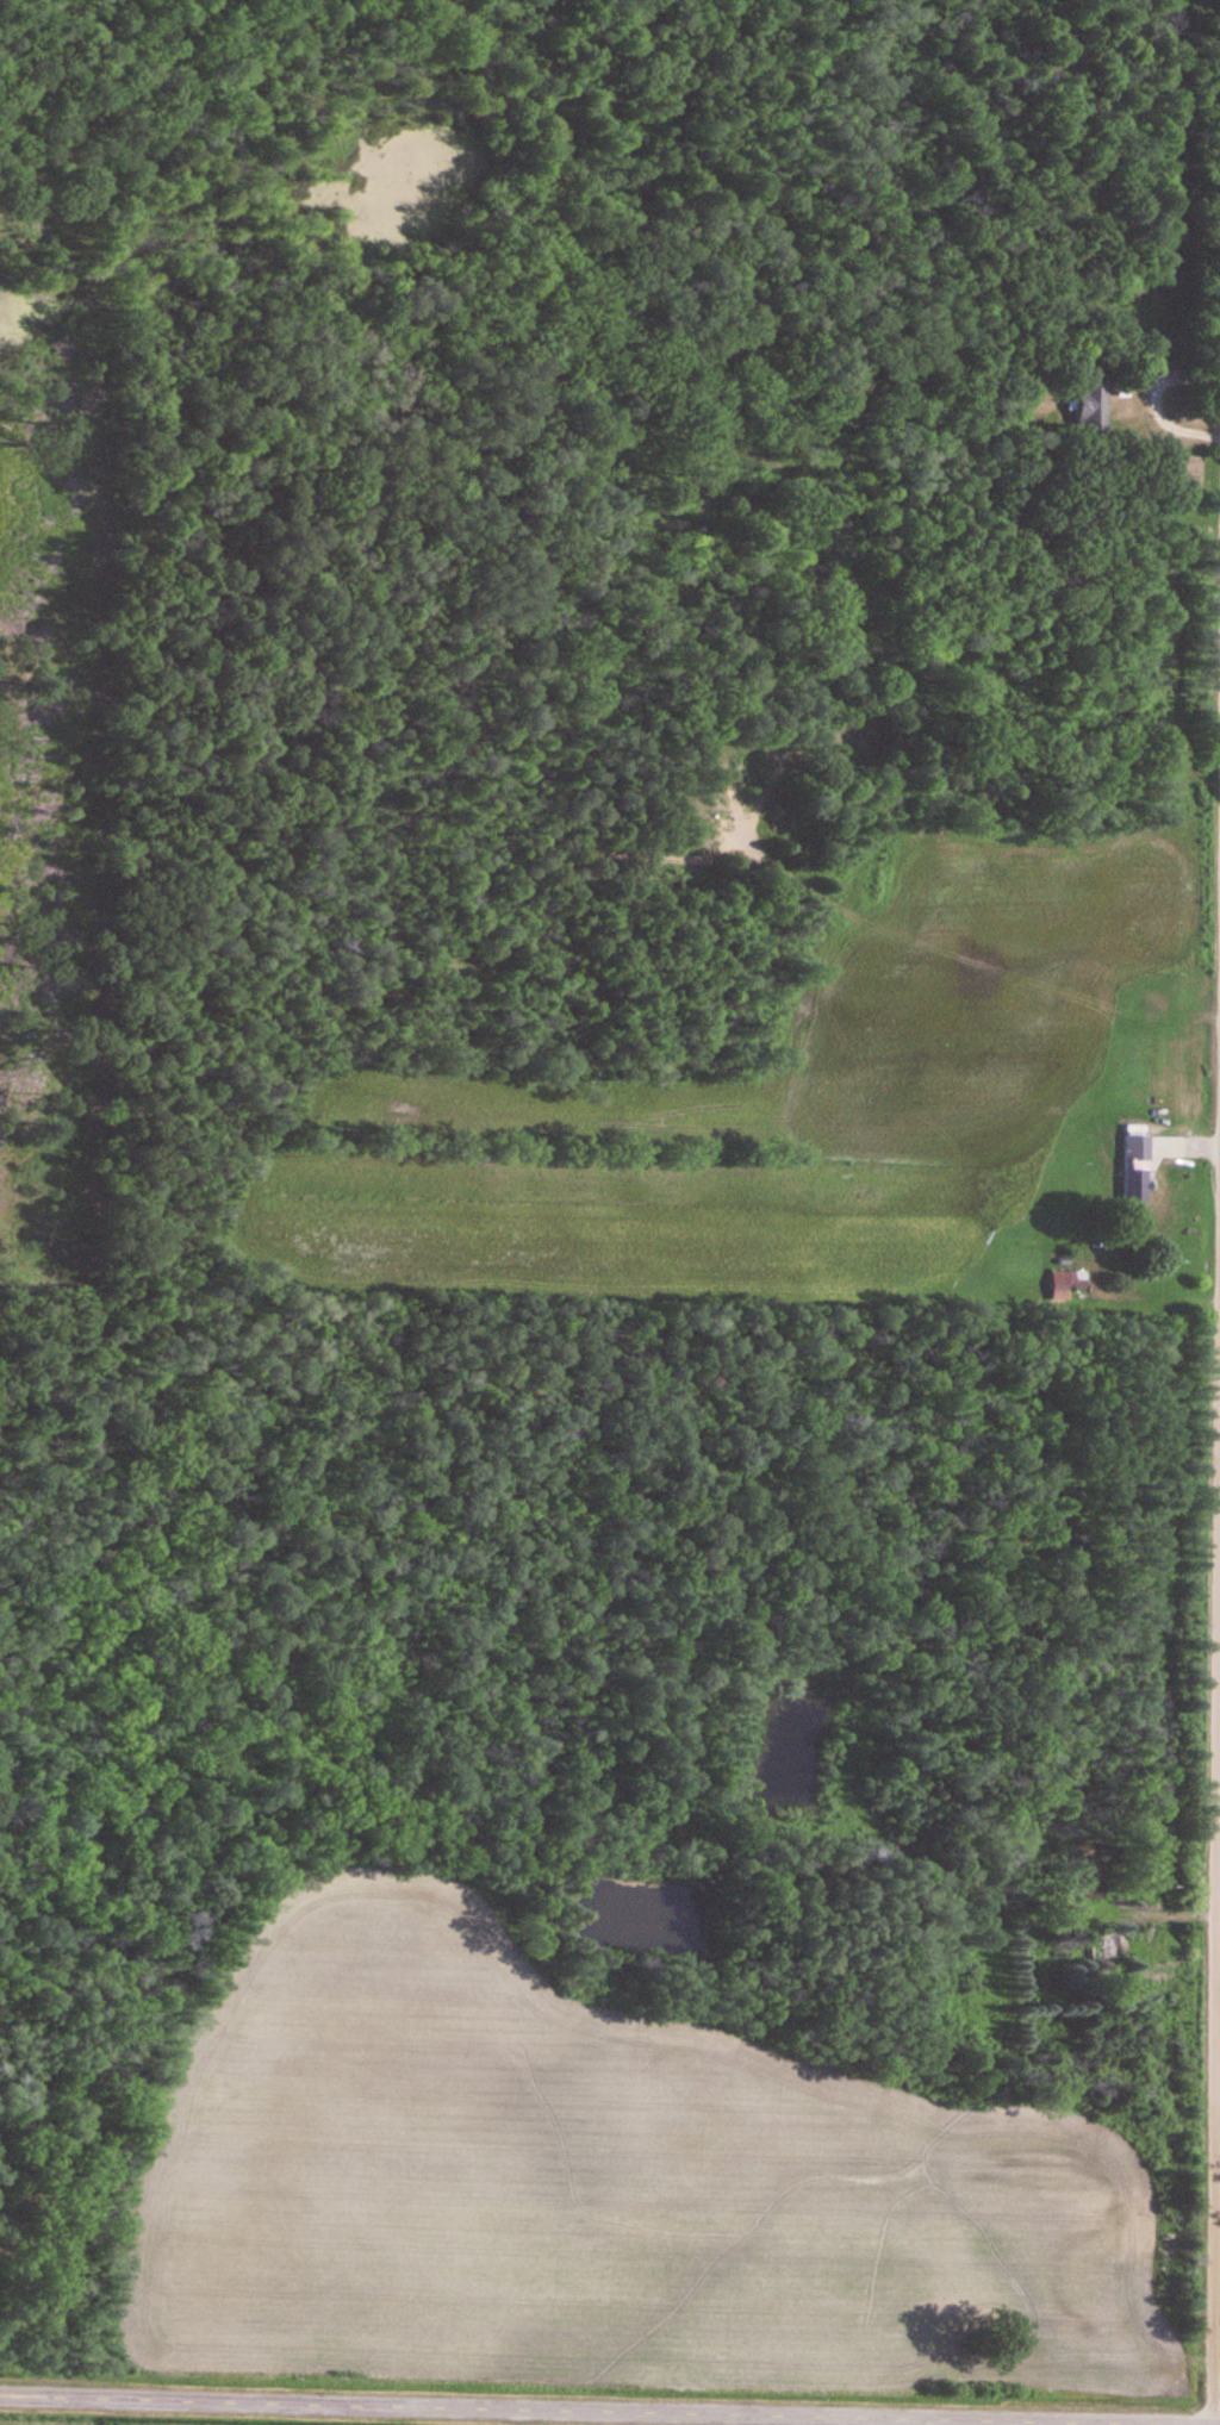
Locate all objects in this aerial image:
building: (1094, 398)
road: (1146, 399)
building: (1138, 1162)
building: (1067, 1283)
road: (1216, 1818)
building: (1113, 1946)
road: (541, 2410)

